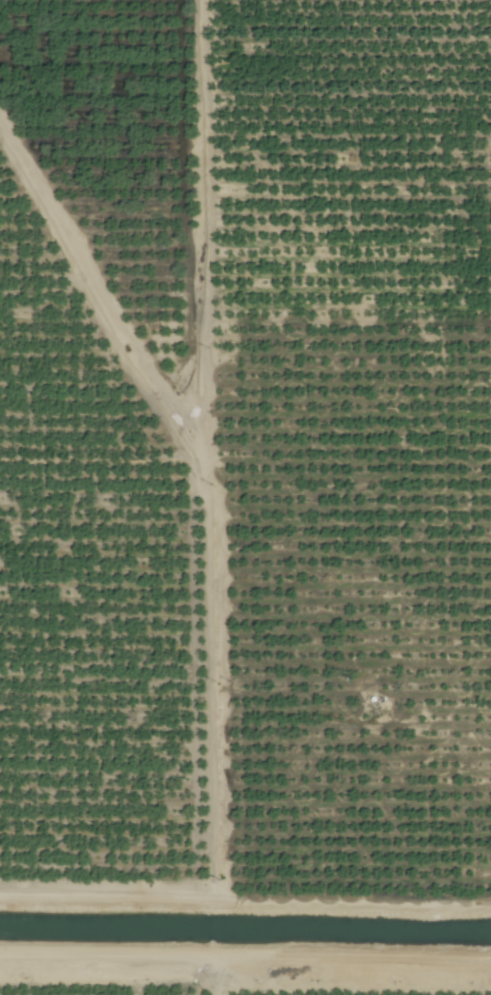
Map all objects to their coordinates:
road: (245, 912)
road: (245, 956)
road: (218, 975)

